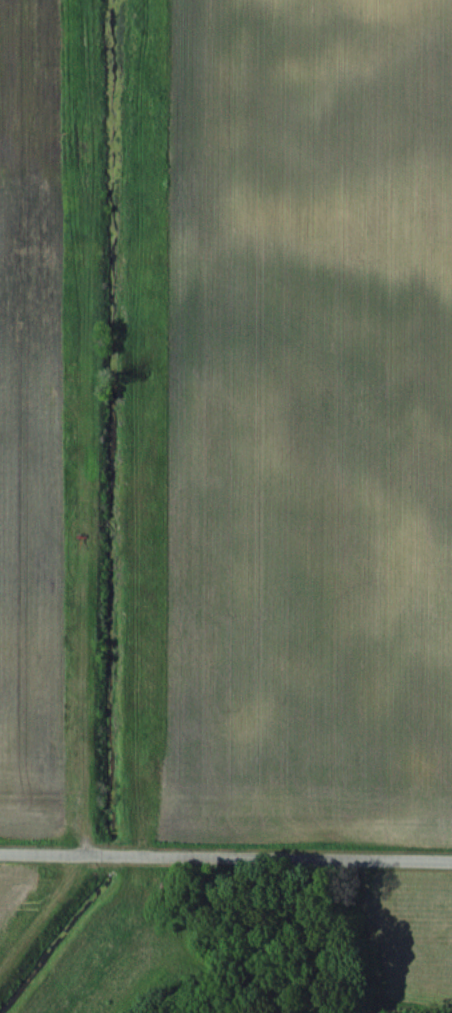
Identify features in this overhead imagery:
road: (226, 850)

